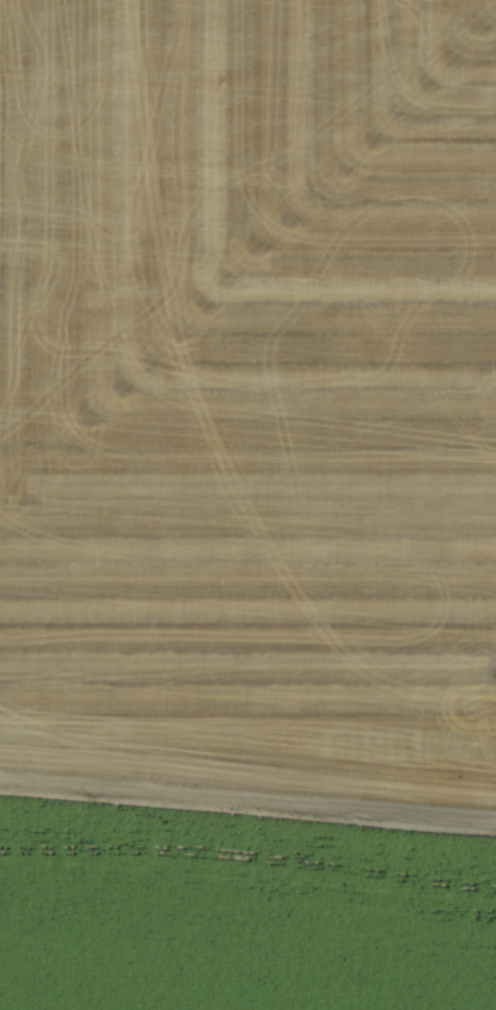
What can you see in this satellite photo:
road: (247, 800)

